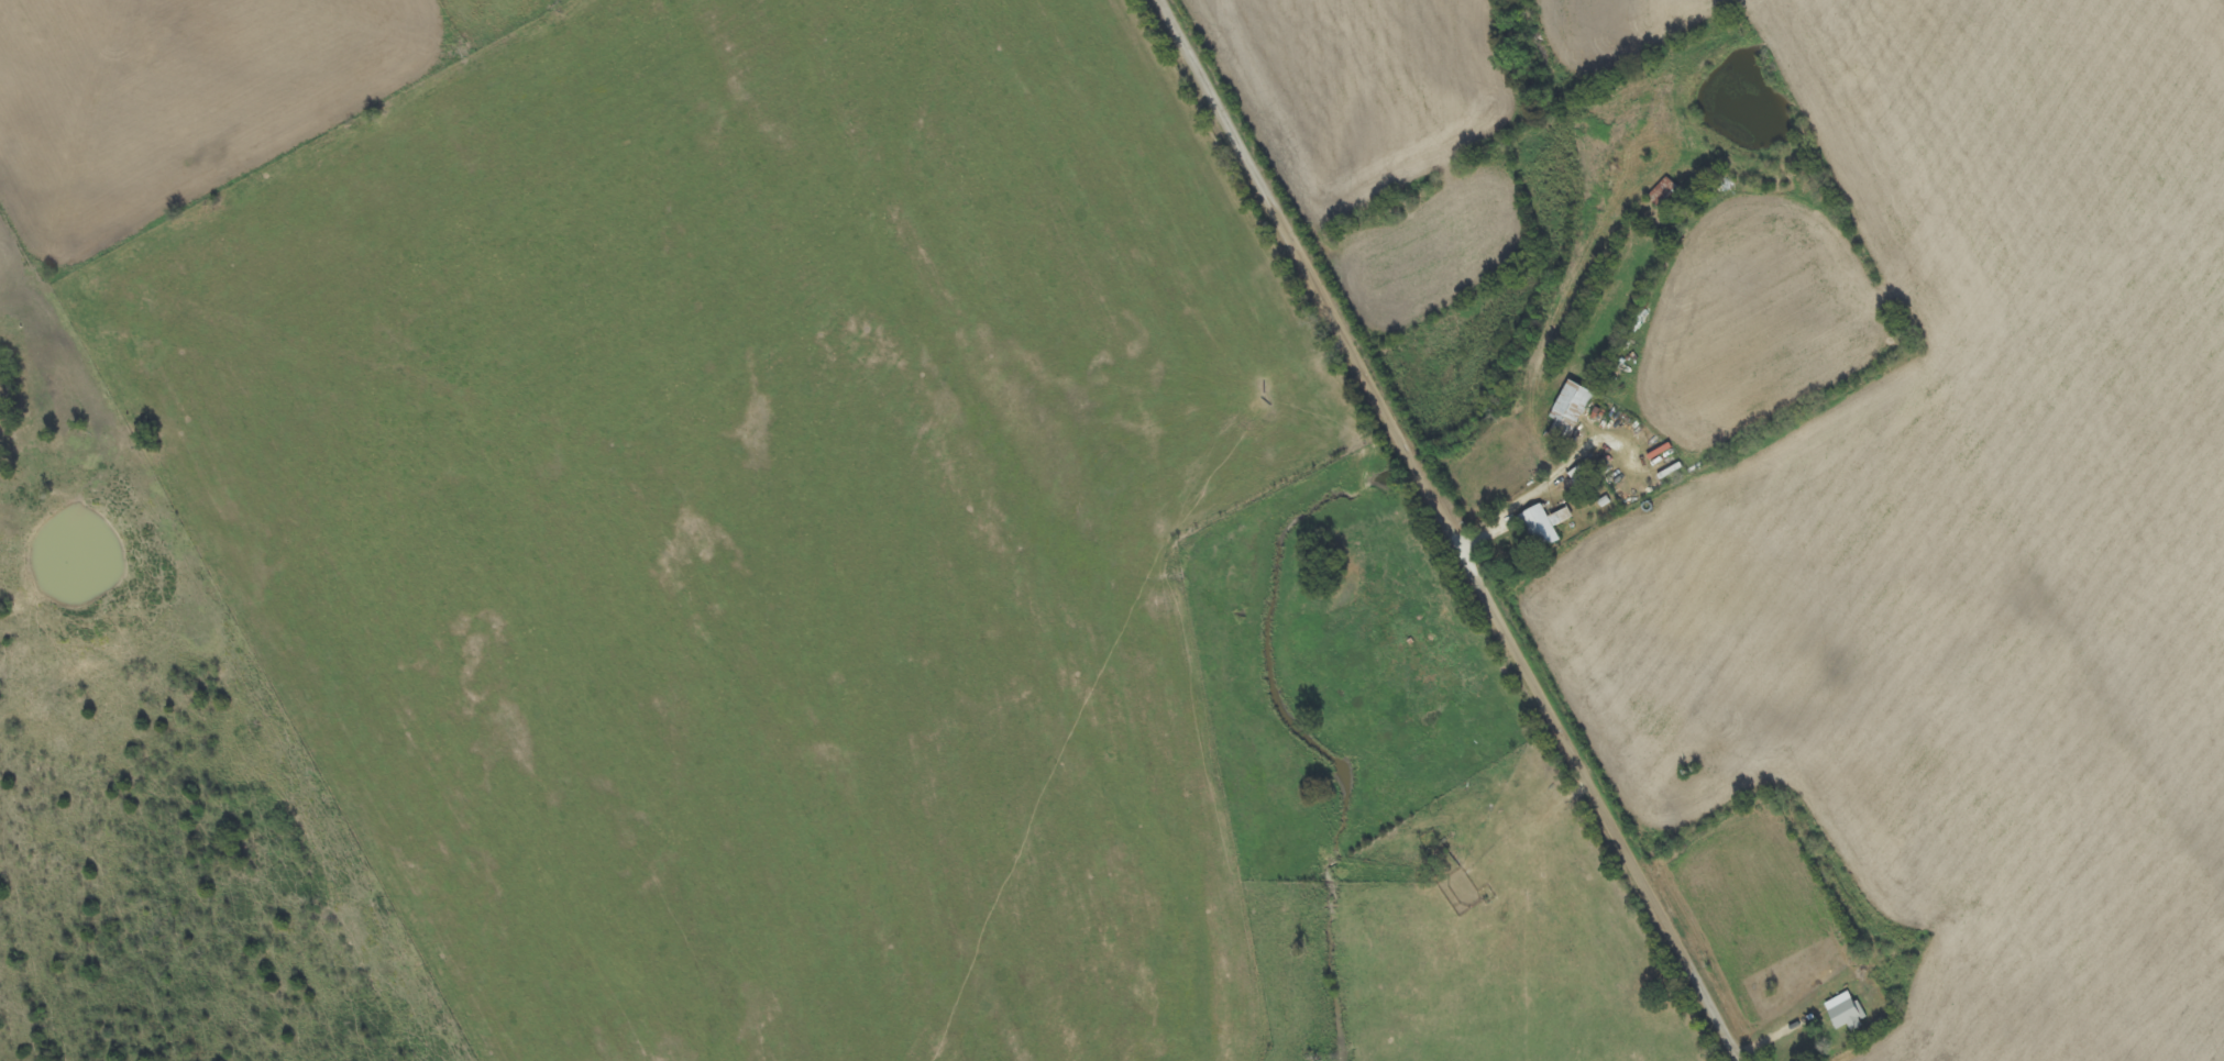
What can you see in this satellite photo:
building: (1659, 192)
road: (1456, 530)
building: (1848, 1013)

